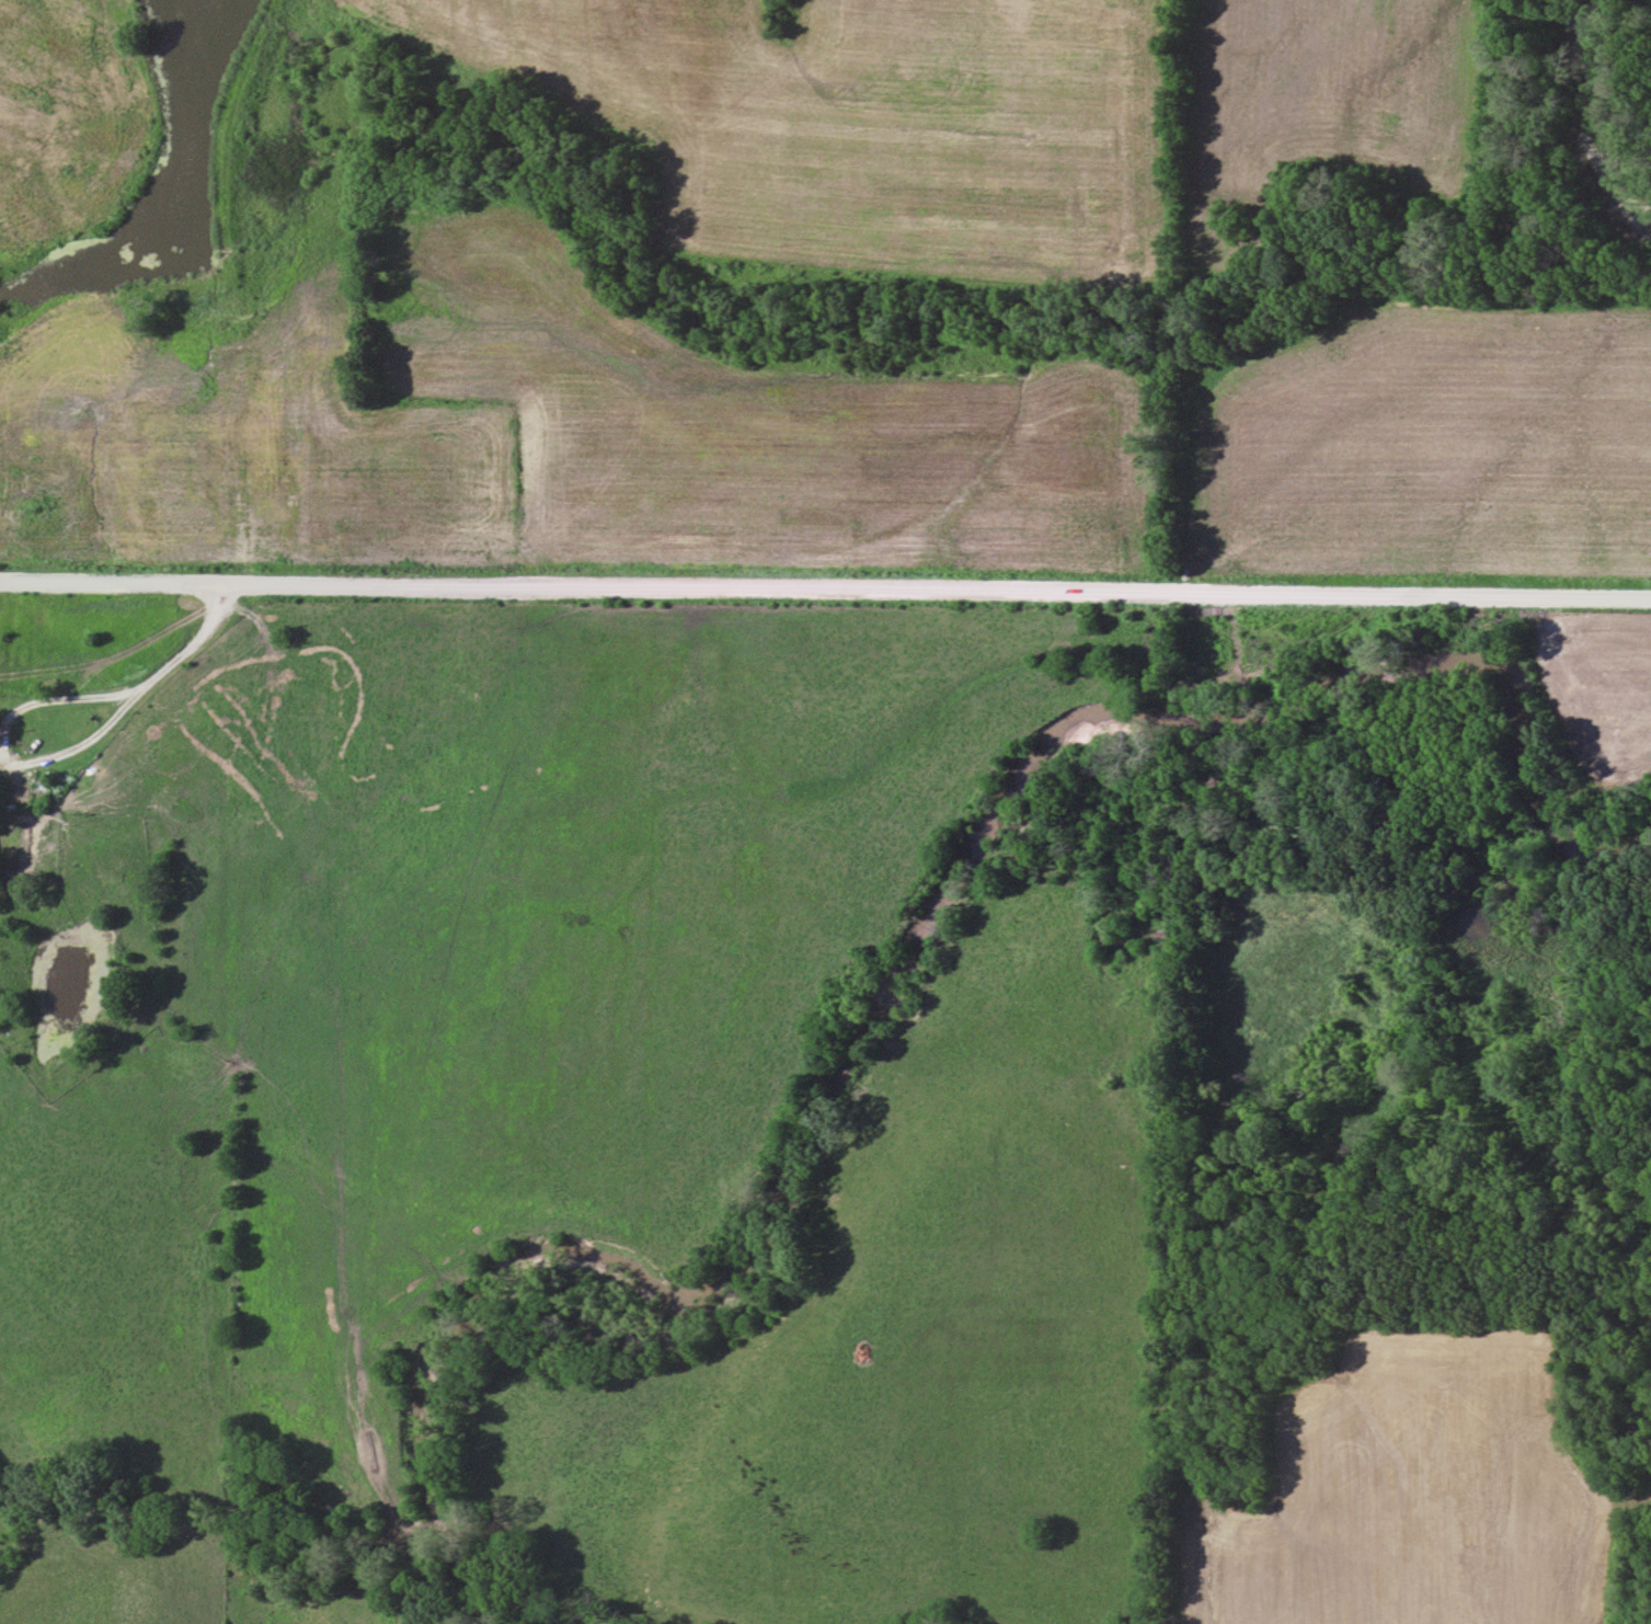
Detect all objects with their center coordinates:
river: (1584, 125)
road: (113, 583)
road: (939, 587)
road: (183, 650)
road: (113, 709)
river: (881, 967)

